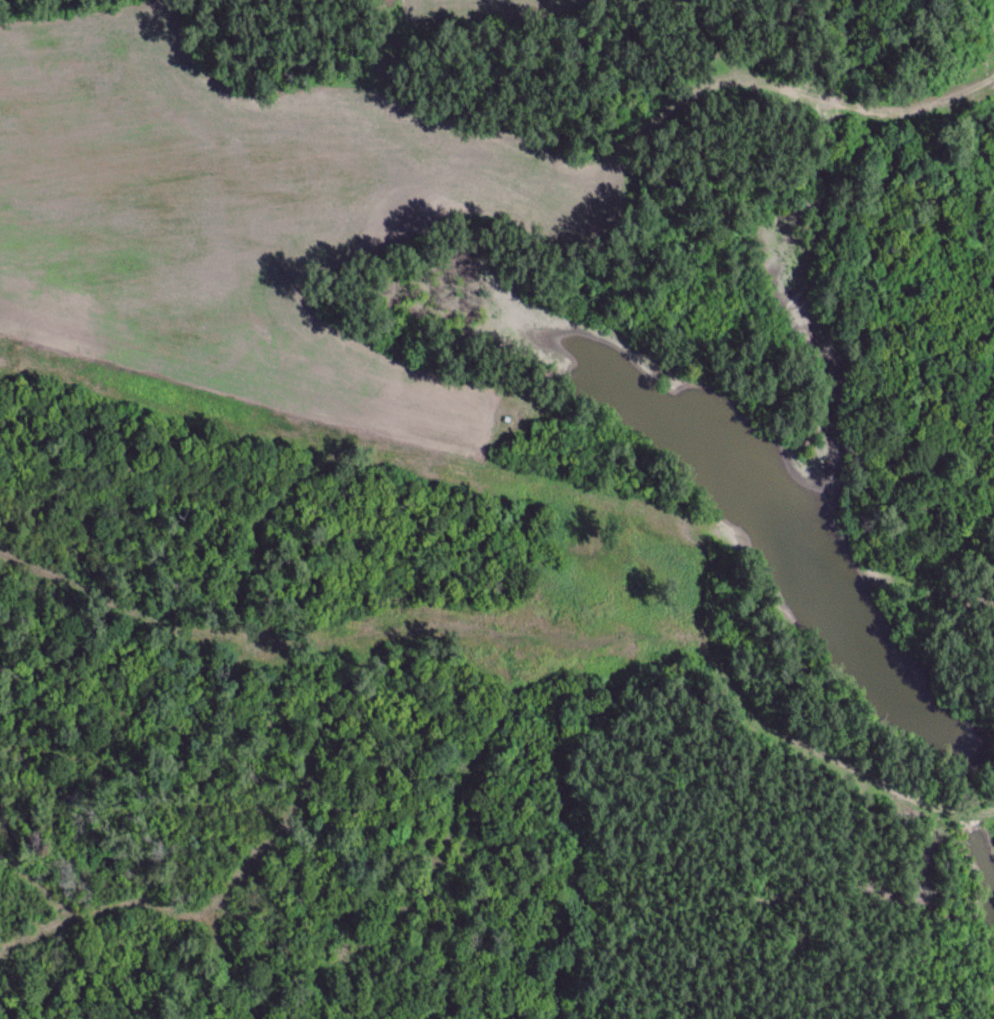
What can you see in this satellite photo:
road: (826, 95)

